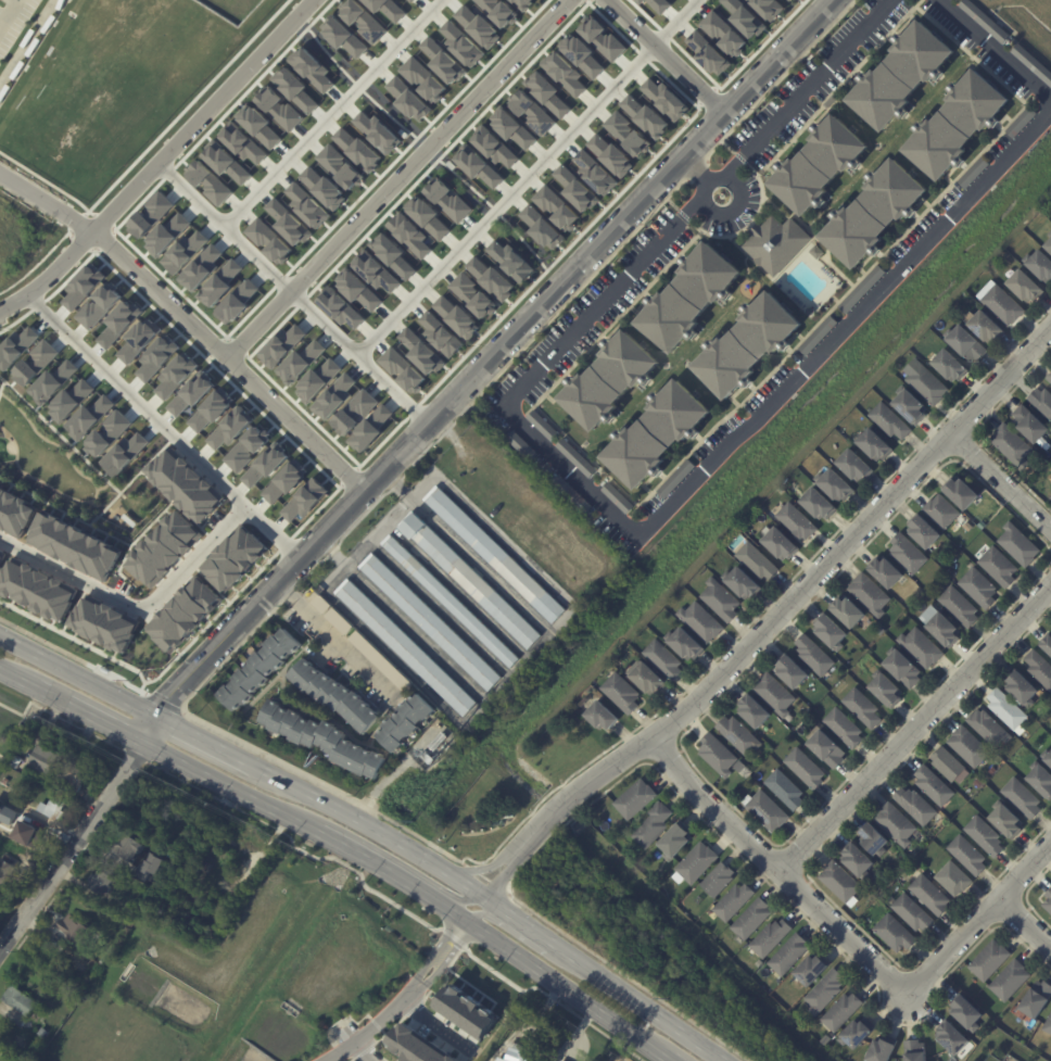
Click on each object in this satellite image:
building: (411, 0)
building: (789, 0)
building: (523, 3)
building: (769, 8)
building: (388, 9)
building: (499, 11)
road: (9, 13)
building: (745, 17)
road: (672, 20)
building: (985, 21)
building: (365, 22)
building: (478, 26)
building: (723, 33)
building: (343, 36)
building: (603, 37)
road: (29, 43)
building: (461, 43)
road: (991, 50)
building: (709, 53)
building: (583, 55)
road: (669, 55)
building: (443, 61)
building: (1033, 62)
building: (312, 68)
building: (565, 73)
building: (900, 75)
building: (423, 78)
building: (295, 89)
building: (548, 92)
road: (803, 94)
building: (408, 99)
building: (666, 99)
building: (279, 109)
road: (330, 111)
building: (531, 111)
building: (646, 116)
building: (1022, 123)
building: (258, 125)
building: (955, 125)
building: (511, 127)
building: (377, 131)
building: (628, 134)
building: (242, 142)
building: (494, 147)
building: (357, 149)
building: (610, 153)
road: (160, 157)
building: (226, 162)
building: (818, 165)
building: (478, 166)
building: (340, 167)
road: (695, 170)
building: (595, 173)
building: (973, 173)
road: (397, 176)
building: (208, 182)
building: (324, 187)
building: (577, 189)
road: (505, 195)
building: (448, 200)
road: (46, 201)
building: (307, 205)
building: (557, 207)
building: (873, 214)
building: (427, 216)
building: (289, 223)
building: (542, 227)
building: (409, 235)
building: (269, 240)
building: (1049, 242)
building: (776, 243)
building: (185, 252)
building: (816, 252)
building: (393, 254)
building: (1005, 254)
building: (511, 260)
building: (1040, 262)
building: (376, 271)
building: (492, 278)
building: (220, 283)
building: (1024, 283)
building: (357, 289)
building: (863, 289)
road: (295, 291)
building: (473, 295)
building: (687, 296)
building: (237, 302)
building: (1002, 303)
building: (340, 307)
building: (457, 317)
building: (984, 324)
building: (441, 334)
building: (819, 336)
building: (966, 341)
building: (745, 344)
building: (15, 345)
building: (281, 345)
building: (421, 352)
road: (232, 357)
building: (34, 361)
building: (301, 362)
building: (951, 363)
road: (484, 368)
building: (402, 369)
building: (174, 374)
building: (1049, 376)
building: (51, 380)
building: (317, 380)
building: (607, 380)
building: (928, 383)
building: (190, 392)
building: (334, 396)
building: (871, 397)
building: (68, 399)
building: (1042, 400)
building: (910, 405)
building: (207, 410)
building: (355, 412)
building: (890, 419)
road: (161, 424)
building: (1029, 424)
building: (228, 426)
building: (543, 426)
building: (370, 429)
building: (655, 434)
building: (874, 443)
building: (1013, 444)
building: (522, 446)
building: (245, 447)
building: (577, 458)
building: (264, 464)
building: (854, 464)
building: (676, 479)
road: (1003, 480)
building: (282, 481)
building: (180, 483)
building: (835, 483)
road: (681, 490)
building: (962, 491)
building: (572, 495)
building: (1050, 496)
building: (303, 498)
building: (618, 498)
building: (818, 503)
building: (942, 509)
building: (15, 511)
building: (797, 520)
building: (925, 531)
building: (781, 542)
building: (1020, 543)
building: (72, 544)
building: (160, 547)
building: (908, 553)
building: (2, 554)
building: (495, 554)
building: (231, 557)
building: (757, 560)
building: (1000, 566)
building: (887, 570)
building: (468, 578)
building: (742, 581)
building: (979, 586)
building: (35, 589)
building: (870, 593)
road: (136, 598)
building: (721, 598)
building: (451, 601)
building: (320, 603)
building: (960, 606)
building: (848, 610)
building: (179, 614)
building: (338, 620)
building: (430, 621)
building: (700, 621)
road: (772, 621)
building: (100, 623)
building: (941, 626)
building: (831, 632)
road: (333, 635)
building: (684, 643)
building: (1048, 643)
building: (404, 646)
building: (921, 646)
building: (814, 654)
building: (663, 658)
building: (380, 660)
building: (1040, 667)
building: (903, 668)
building: (259, 669)
building: (792, 671)
road: (77, 674)
road: (18, 677)
building: (647, 678)
building: (1023, 687)
building: (887, 689)
building: (621, 692)
building: (775, 693)
building: (334, 695)
building: (863, 707)
building: (1006, 708)
building: (754, 711)
road: (91, 715)
building: (600, 715)
building: (402, 721)
road: (915, 725)
building: (845, 727)
building: (989, 728)
building: (738, 734)
road: (204, 740)
building: (322, 740)
building: (439, 742)
building: (970, 745)
building: (826, 747)
building: (717, 754)
building: (1048, 755)
building: (428, 758)
building: (42, 760)
building: (14, 763)
building: (950, 765)
building: (739, 766)
building: (806, 768)
building: (993, 770)
building: (69, 776)
building: (1041, 779)
building: (5, 781)
building: (978, 783)
building: (935, 785)
road: (233, 786)
building: (785, 788)
building: (4, 792)
building: (1023, 797)
building: (634, 798)
building: (916, 805)
building: (52, 808)
building: (765, 810)
building: (1006, 820)
building: (897, 823)
building: (653, 824)
road: (370, 825)
building: (30, 835)
railway: (360, 835)
building: (985, 835)
building: (873, 838)
building: (673, 841)
road: (73, 846)
building: (127, 847)
building: (967, 855)
building: (215, 856)
building: (858, 860)
building: (697, 862)
road: (403, 866)
road: (485, 866)
building: (4, 871)
road: (393, 873)
building: (954, 877)
building: (718, 879)
building: (840, 881)
building: (99, 883)
building: (13, 886)
building: (930, 894)
building: (733, 901)
building: (1048, 901)
building: (88, 910)
building: (913, 912)
building: (751, 919)
road: (521, 920)
road: (1023, 924)
building: (76, 931)
road: (511, 931)
building: (896, 933)
building: (203, 937)
building: (771, 937)
road: (853, 943)
road: (446, 944)
building: (68, 955)
building: (788, 955)
building: (990, 960)
building: (810, 970)
building: (85, 980)
building: (1011, 980)
road: (566, 987)
building: (824, 991)
building: (1037, 999)
building: (18, 1000)
road: (642, 1003)
building: (469, 1011)
building: (841, 1011)
building: (966, 1013)
road: (383, 1021)
building: (1048, 1025)
road: (436, 1027)
building: (41, 1032)
building: (853, 1032)
building: (952, 1037)
building: (419, 1046)
building: (881, 1048)
road: (369, 1049)
building: (848, 1050)
building: (914, 1050)
building: (516, 1052)
road: (670, 1059)
building: (1, 1060)
building: (560, 1060)
building: (562, 1060)

